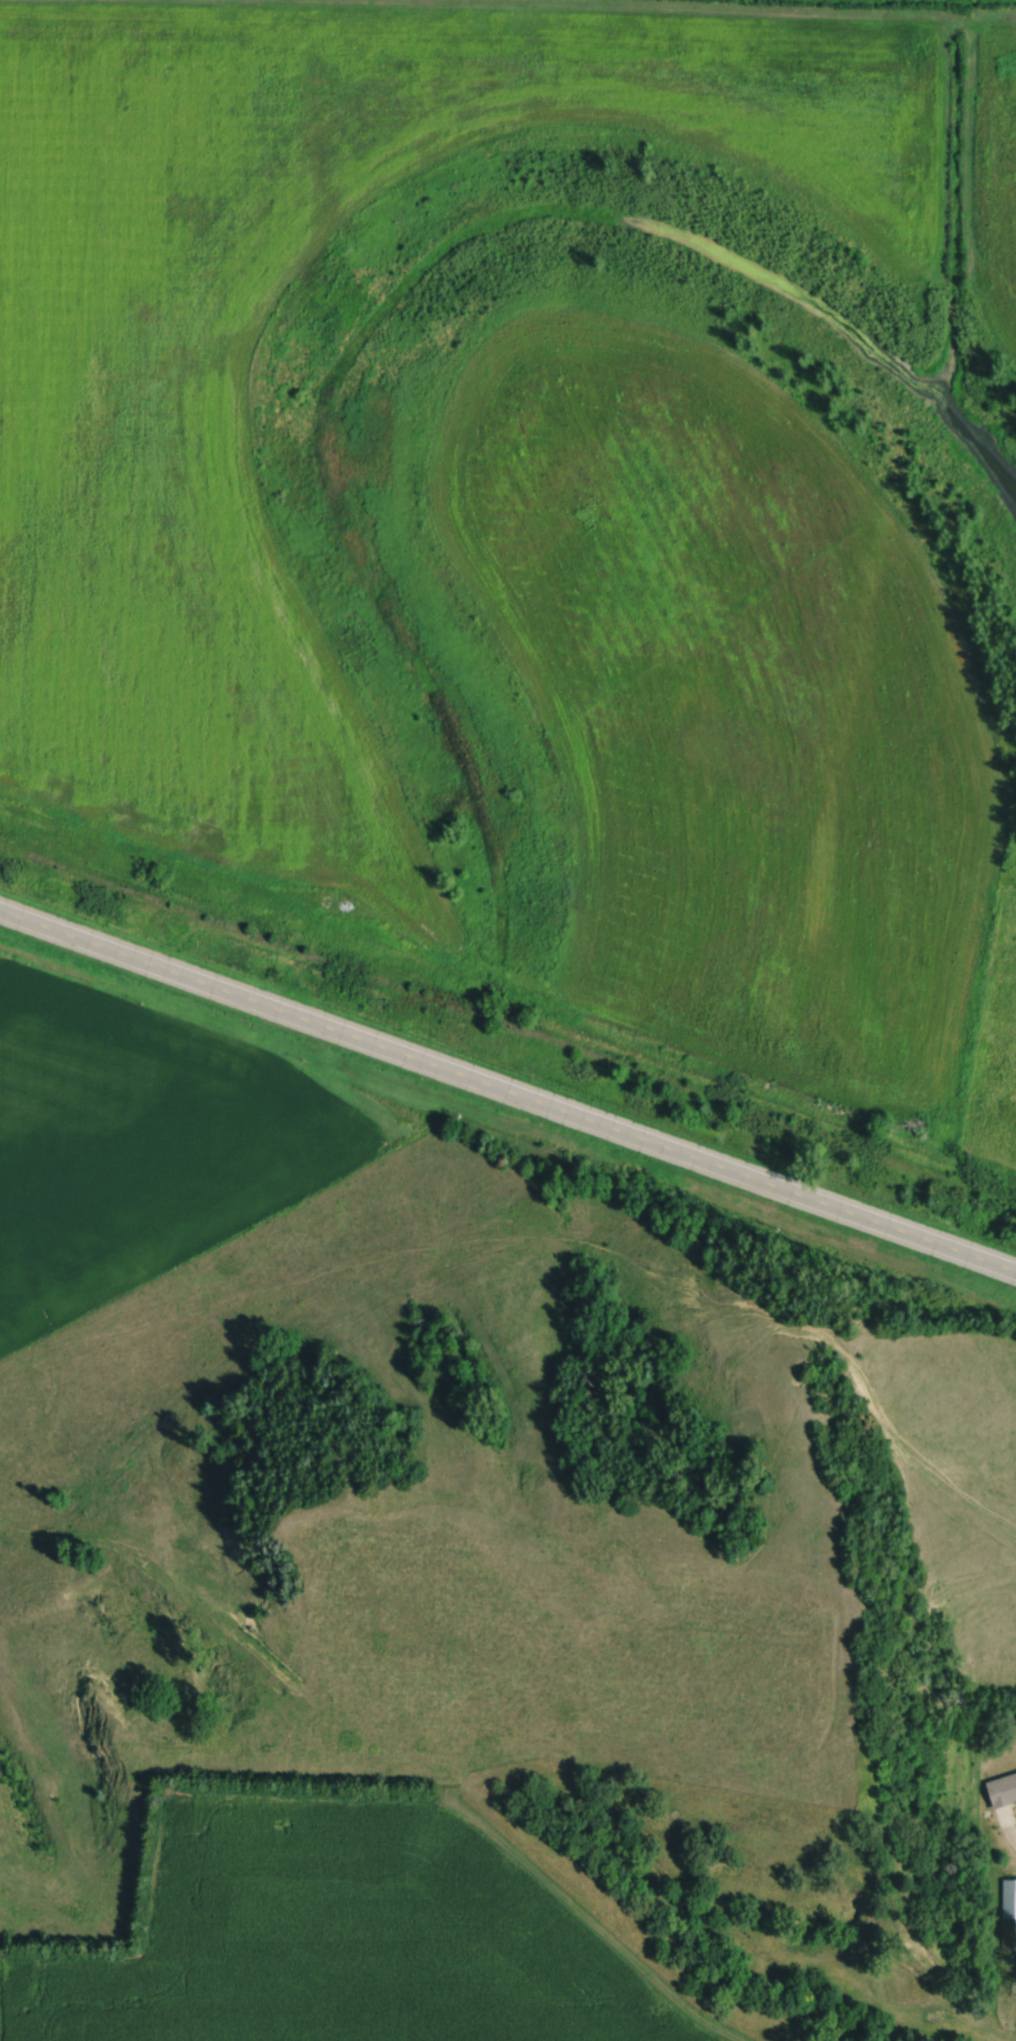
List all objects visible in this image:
road: (507, 1095)
building: (1003, 1791)
building: (1009, 1915)

